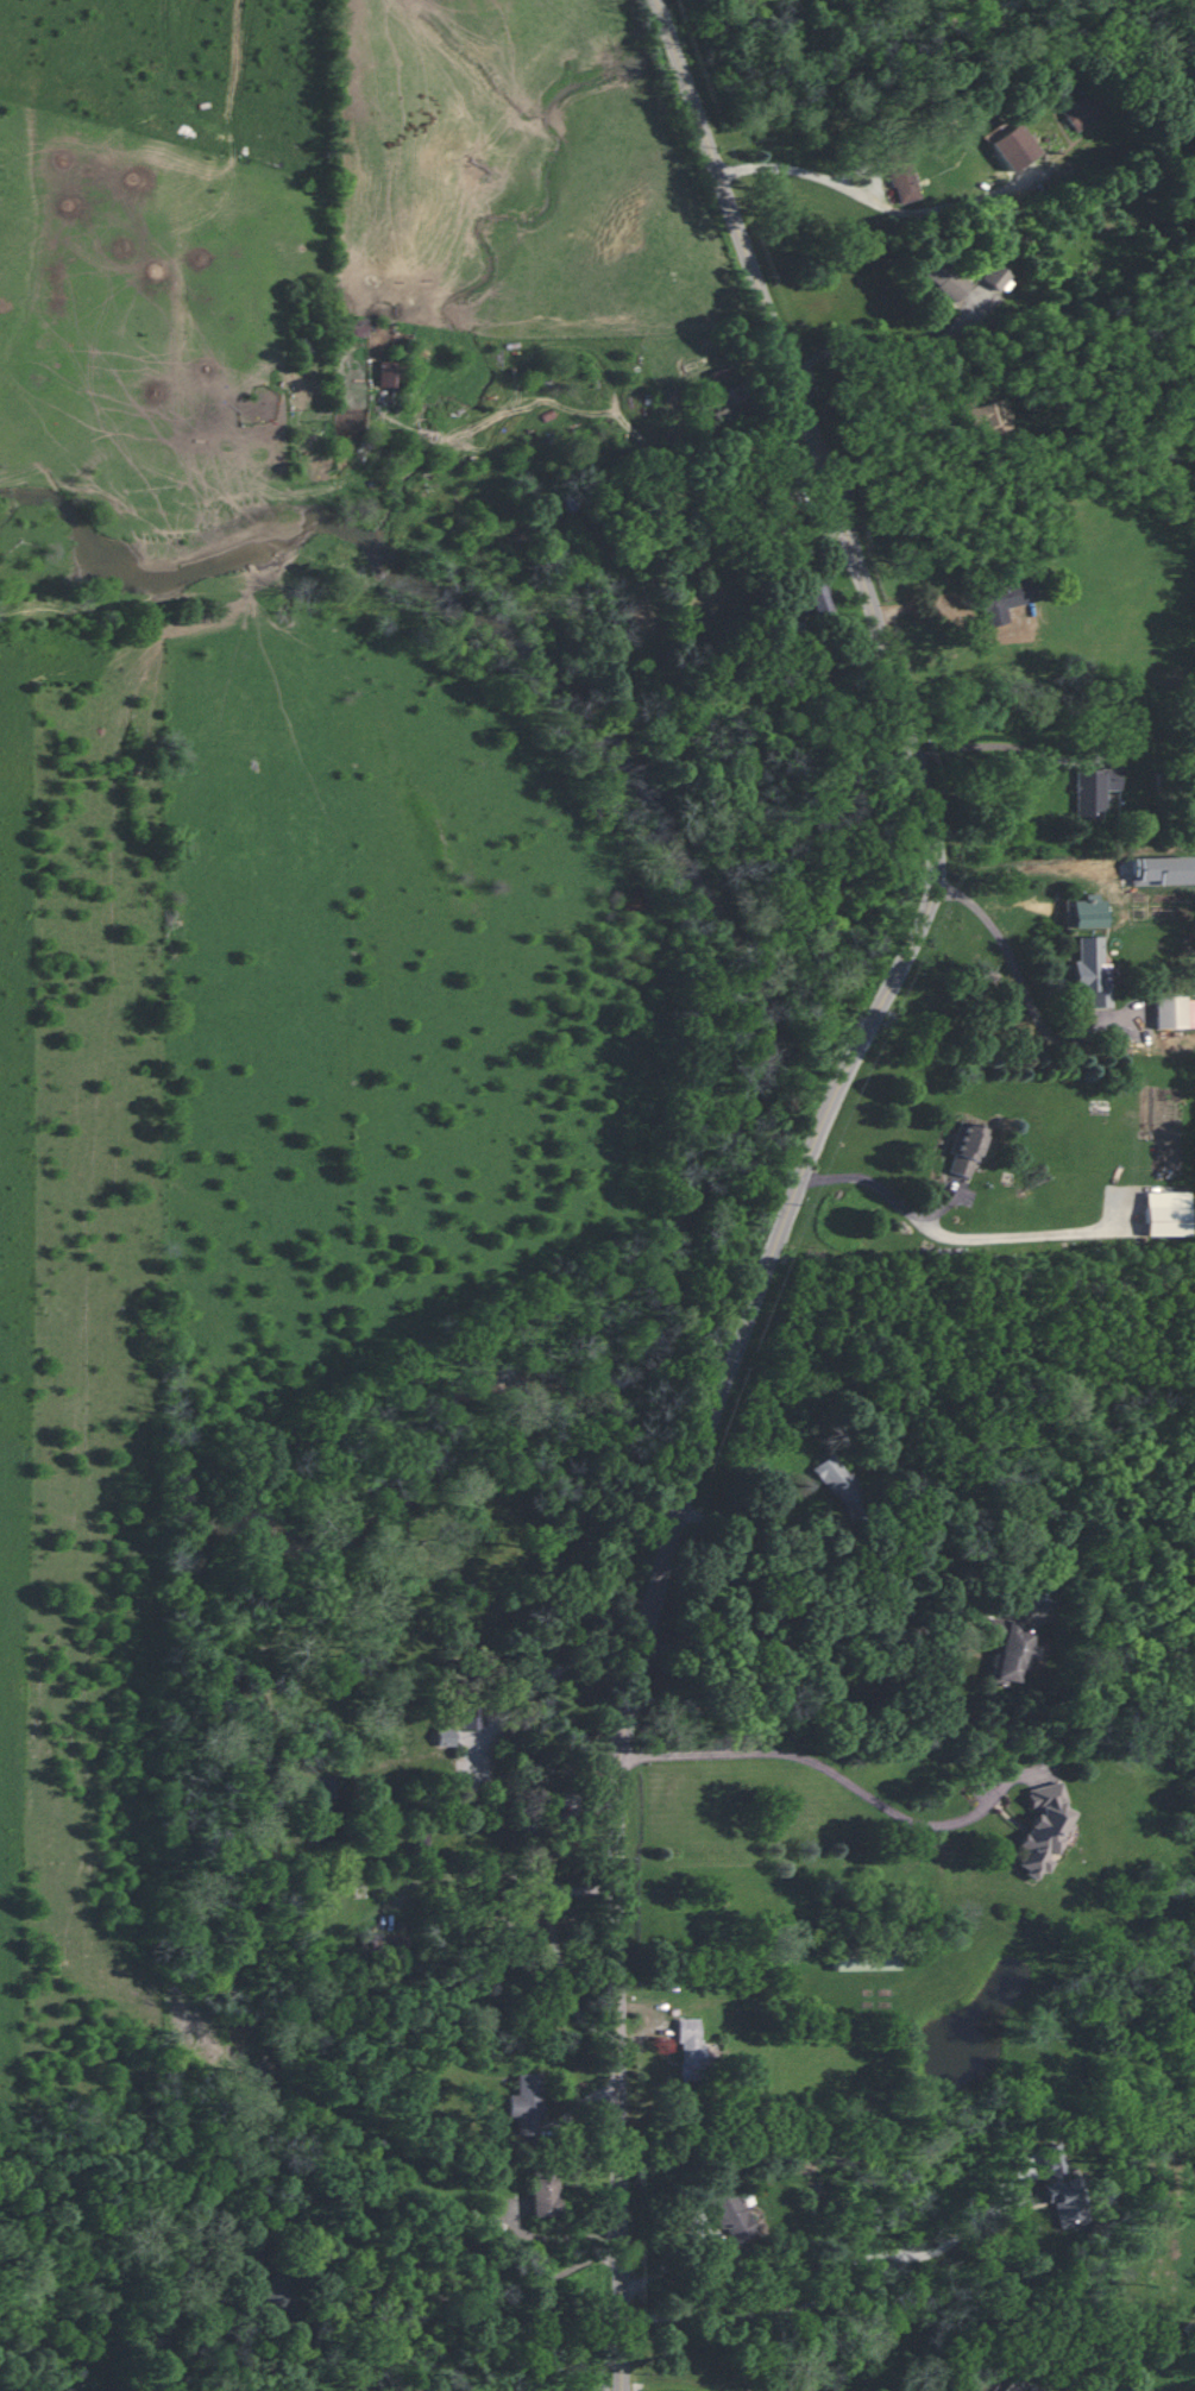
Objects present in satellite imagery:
building: (1082, 111)
building: (1012, 146)
building: (902, 181)
road: (881, 205)
building: (995, 276)
building: (946, 279)
building: (357, 327)
road: (888, 353)
building: (388, 373)
building: (985, 419)
road: (891, 468)
building: (811, 598)
building: (1004, 599)
road: (990, 743)
building: (1093, 788)
building: (1088, 912)
building: (1090, 970)
road: (1020, 973)
building: (1175, 1012)
building: (964, 1149)
road: (803, 1171)
road: (879, 1188)
building: (1165, 1220)
building: (836, 1479)
road: (762, 1530)
road: (799, 1630)
building: (1007, 1649)
road: (545, 1682)
building: (446, 1736)
road: (855, 1786)
building: (1042, 1827)
road: (556, 1944)
building: (864, 1959)
building: (690, 2051)
building: (526, 2102)
building: (1063, 2188)
building: (543, 2192)
building: (730, 2214)
road: (554, 2236)
road: (666, 2265)
road: (841, 2278)
building: (277, 2290)
road: (520, 2295)
building: (1018, 2386)

